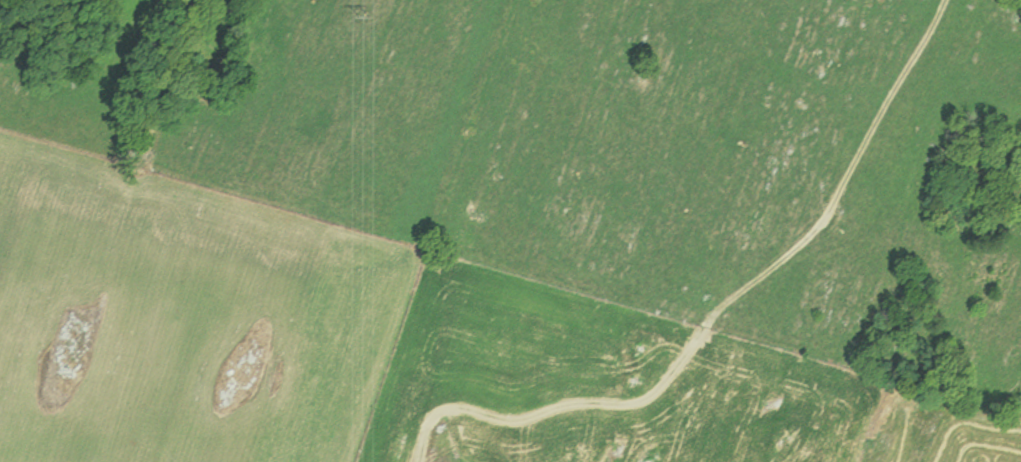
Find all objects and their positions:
power tower: (362, 14)

